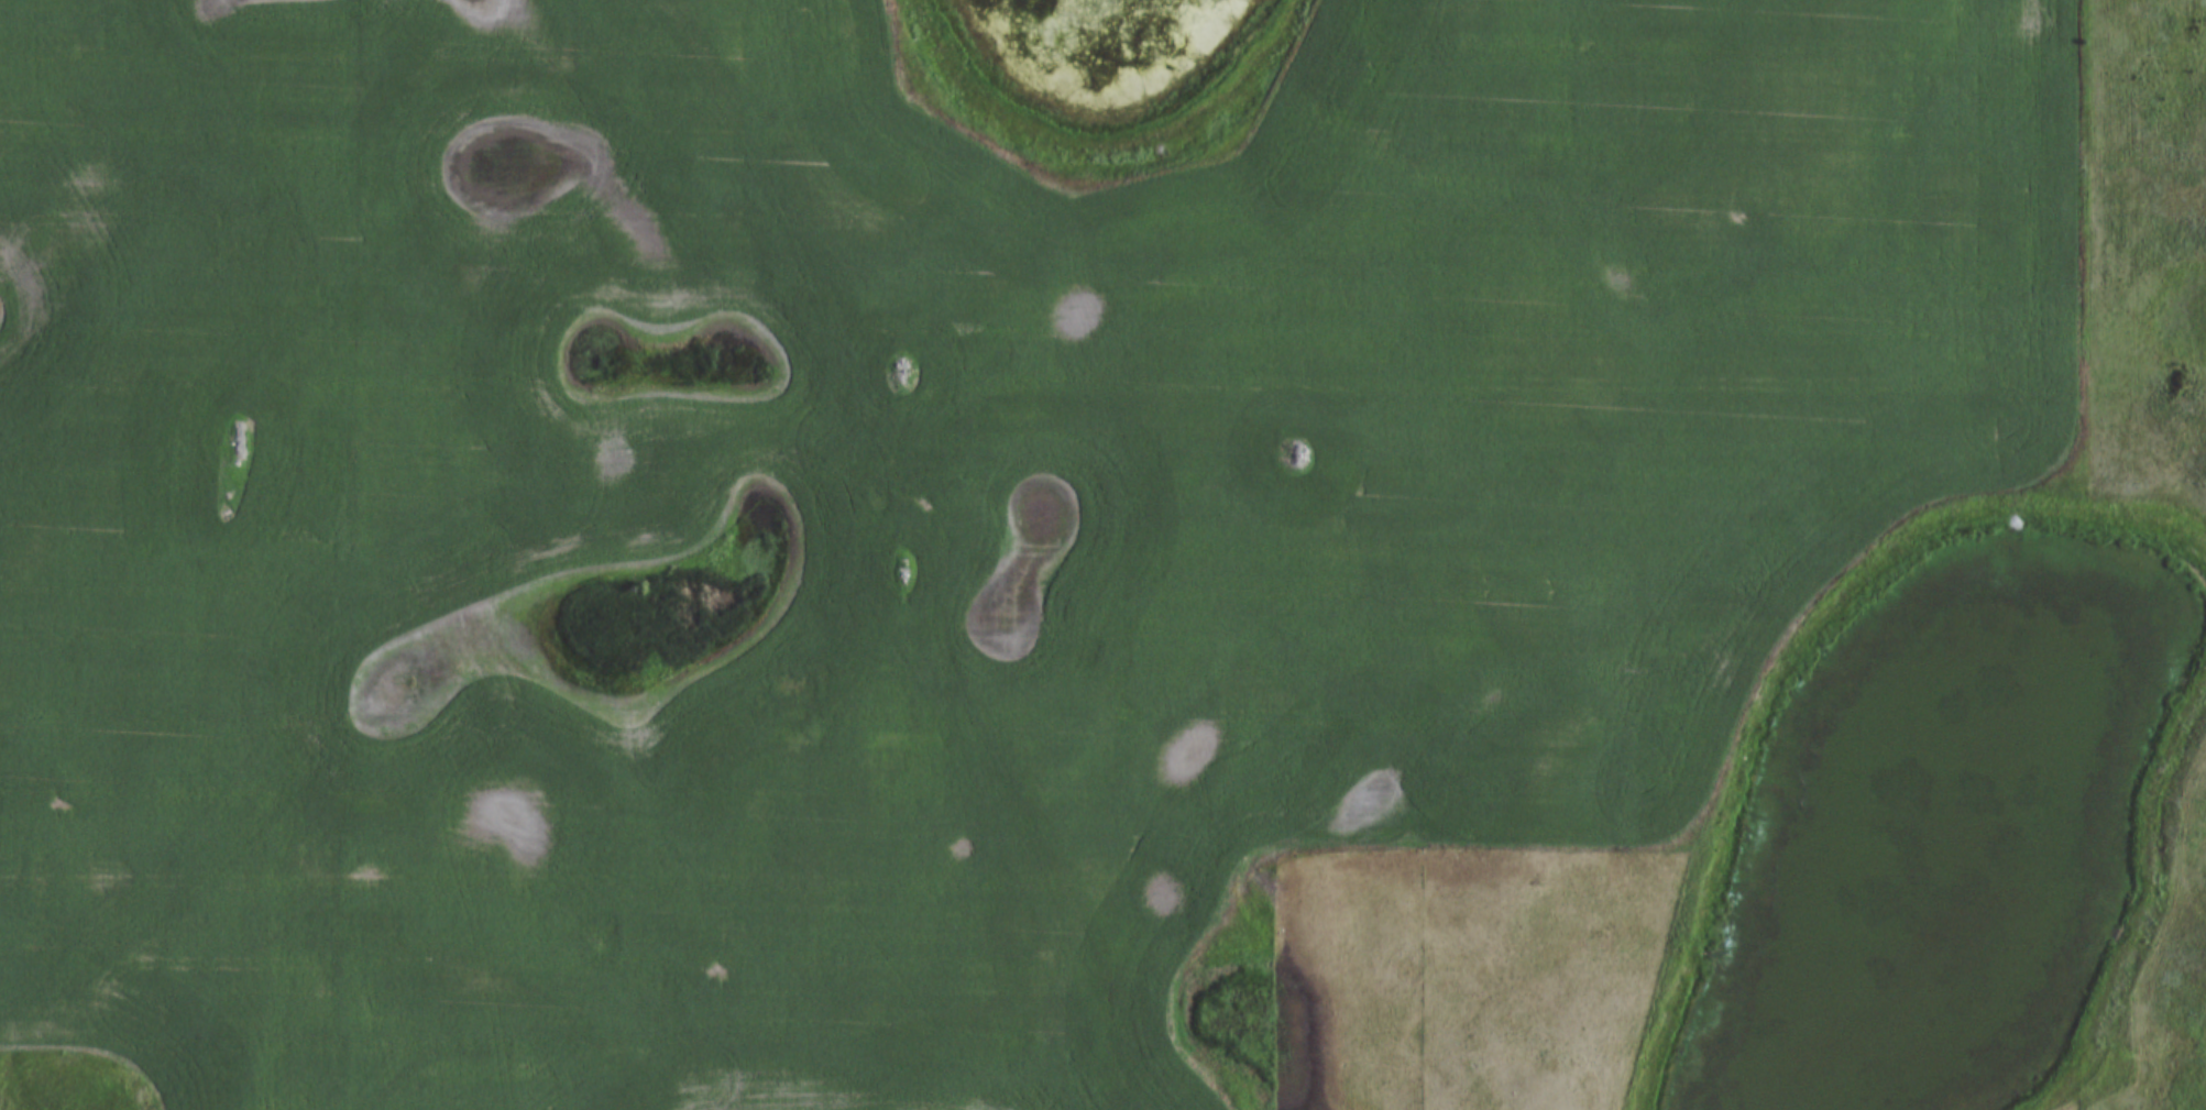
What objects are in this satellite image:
road: (352, 554)

